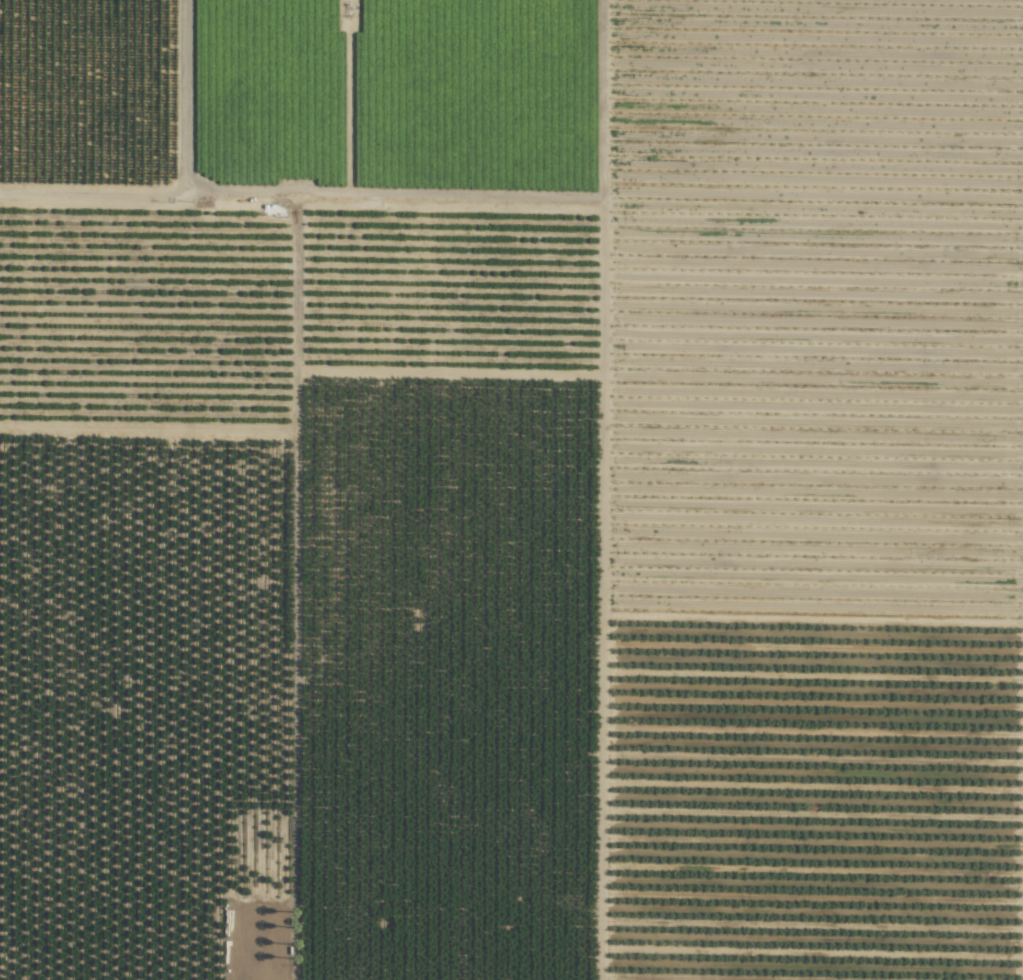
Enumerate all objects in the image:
road: (140, 207)
road: (593, 490)
road: (265, 977)

